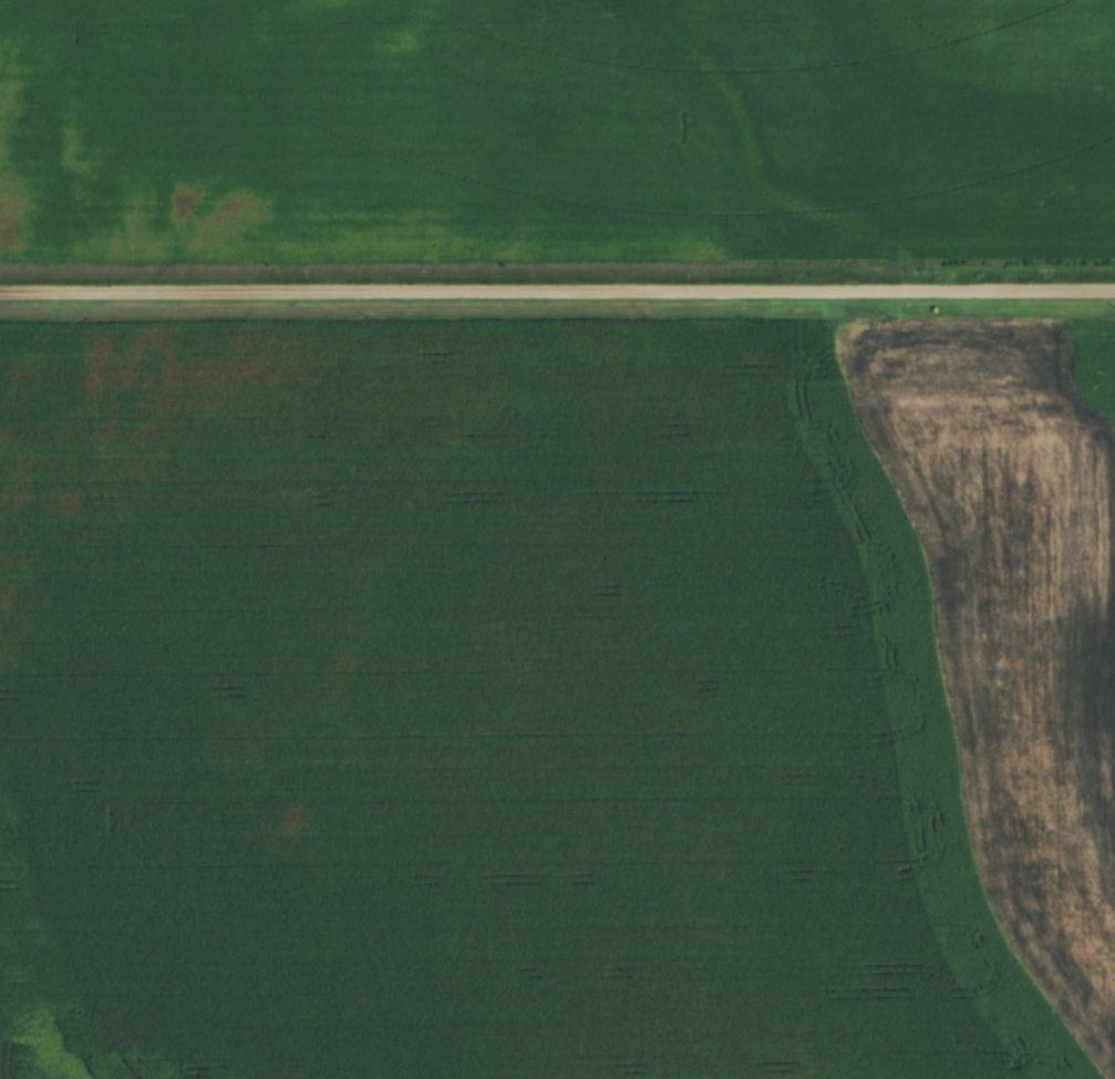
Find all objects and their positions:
road: (557, 297)

